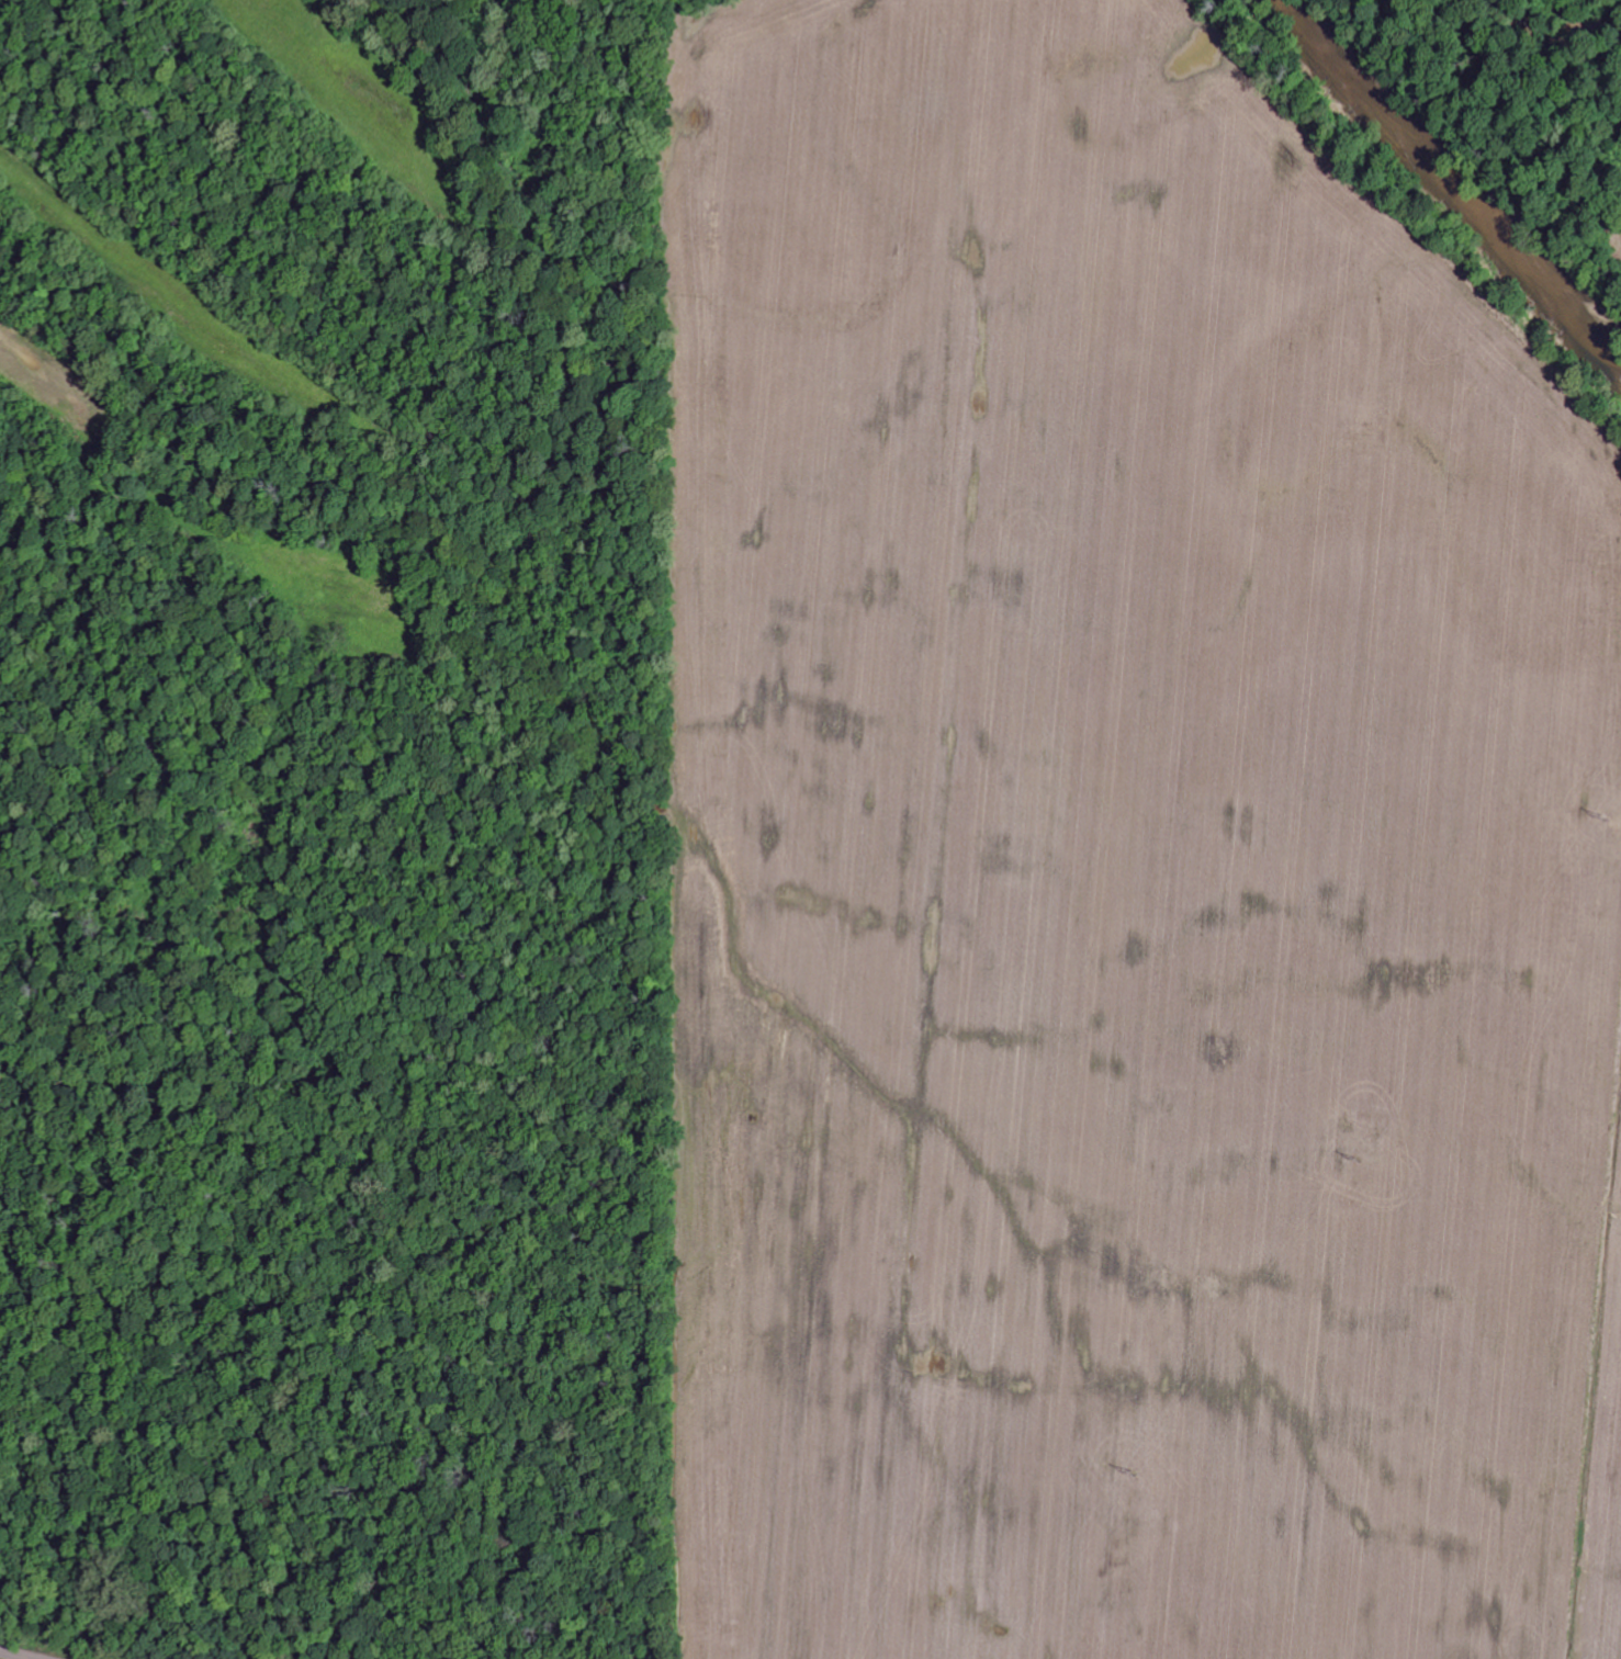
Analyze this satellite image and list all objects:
river: (1446, 179)
power tower: (1616, 820)
power tower: (1365, 1163)
power tower: (1144, 1475)
road: (12, 1656)

